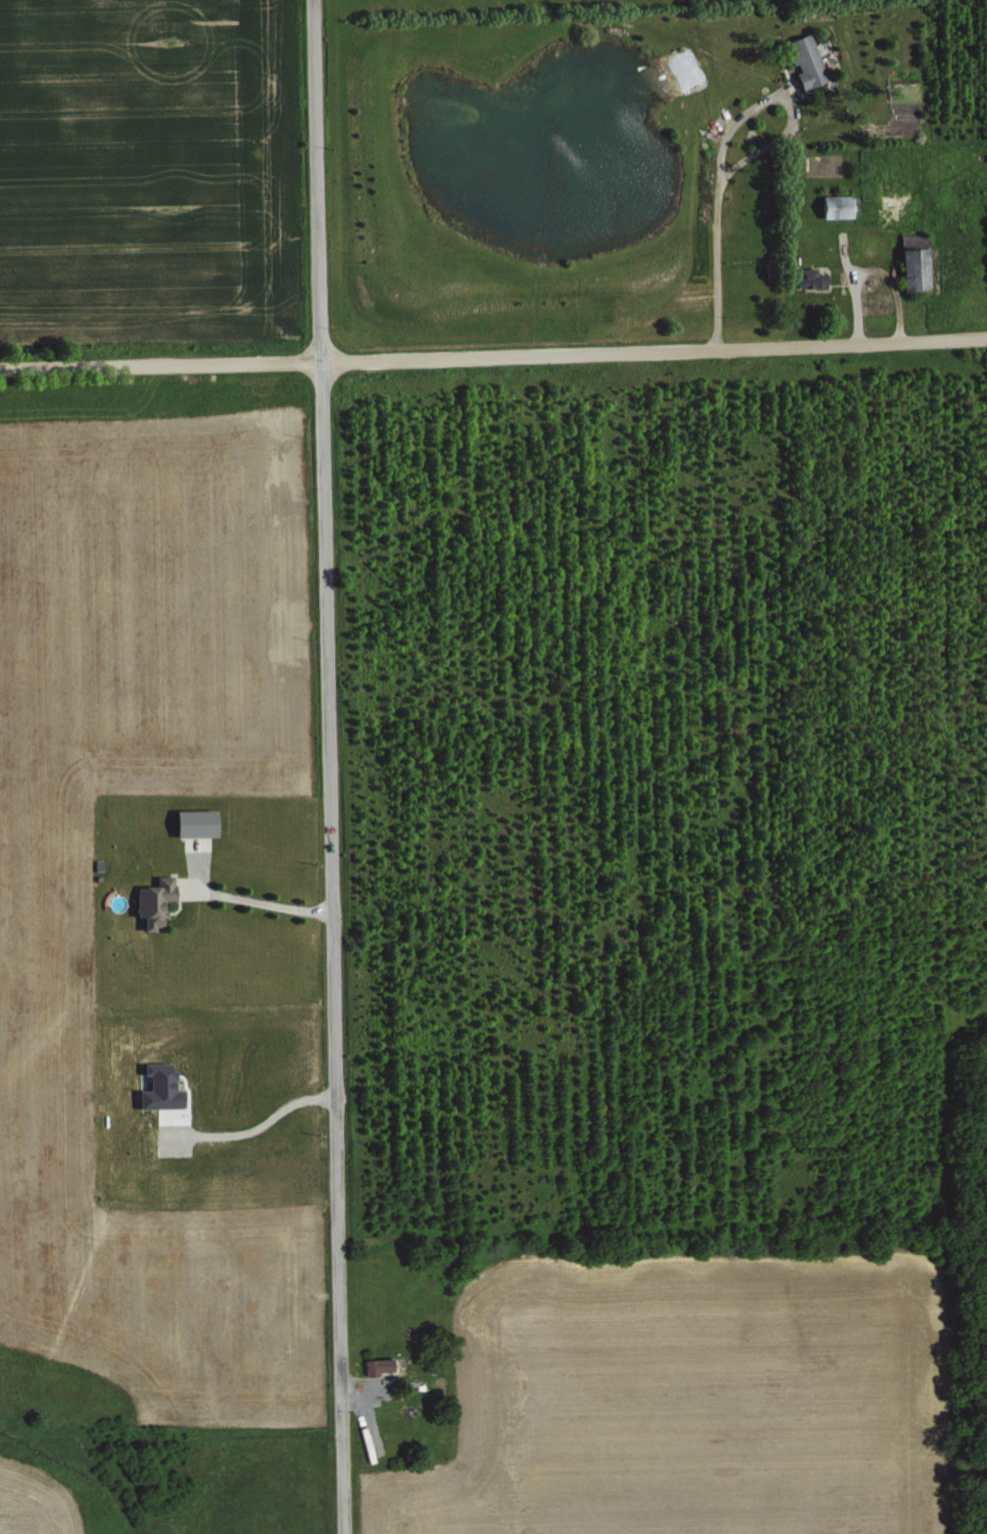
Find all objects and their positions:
building: (807, 60)
building: (838, 205)
road: (716, 234)
building: (812, 277)
road: (493, 355)
road: (329, 766)
building: (196, 822)
building: (155, 901)
road: (262, 901)
building: (161, 1087)
road: (257, 1128)
building: (380, 1363)

